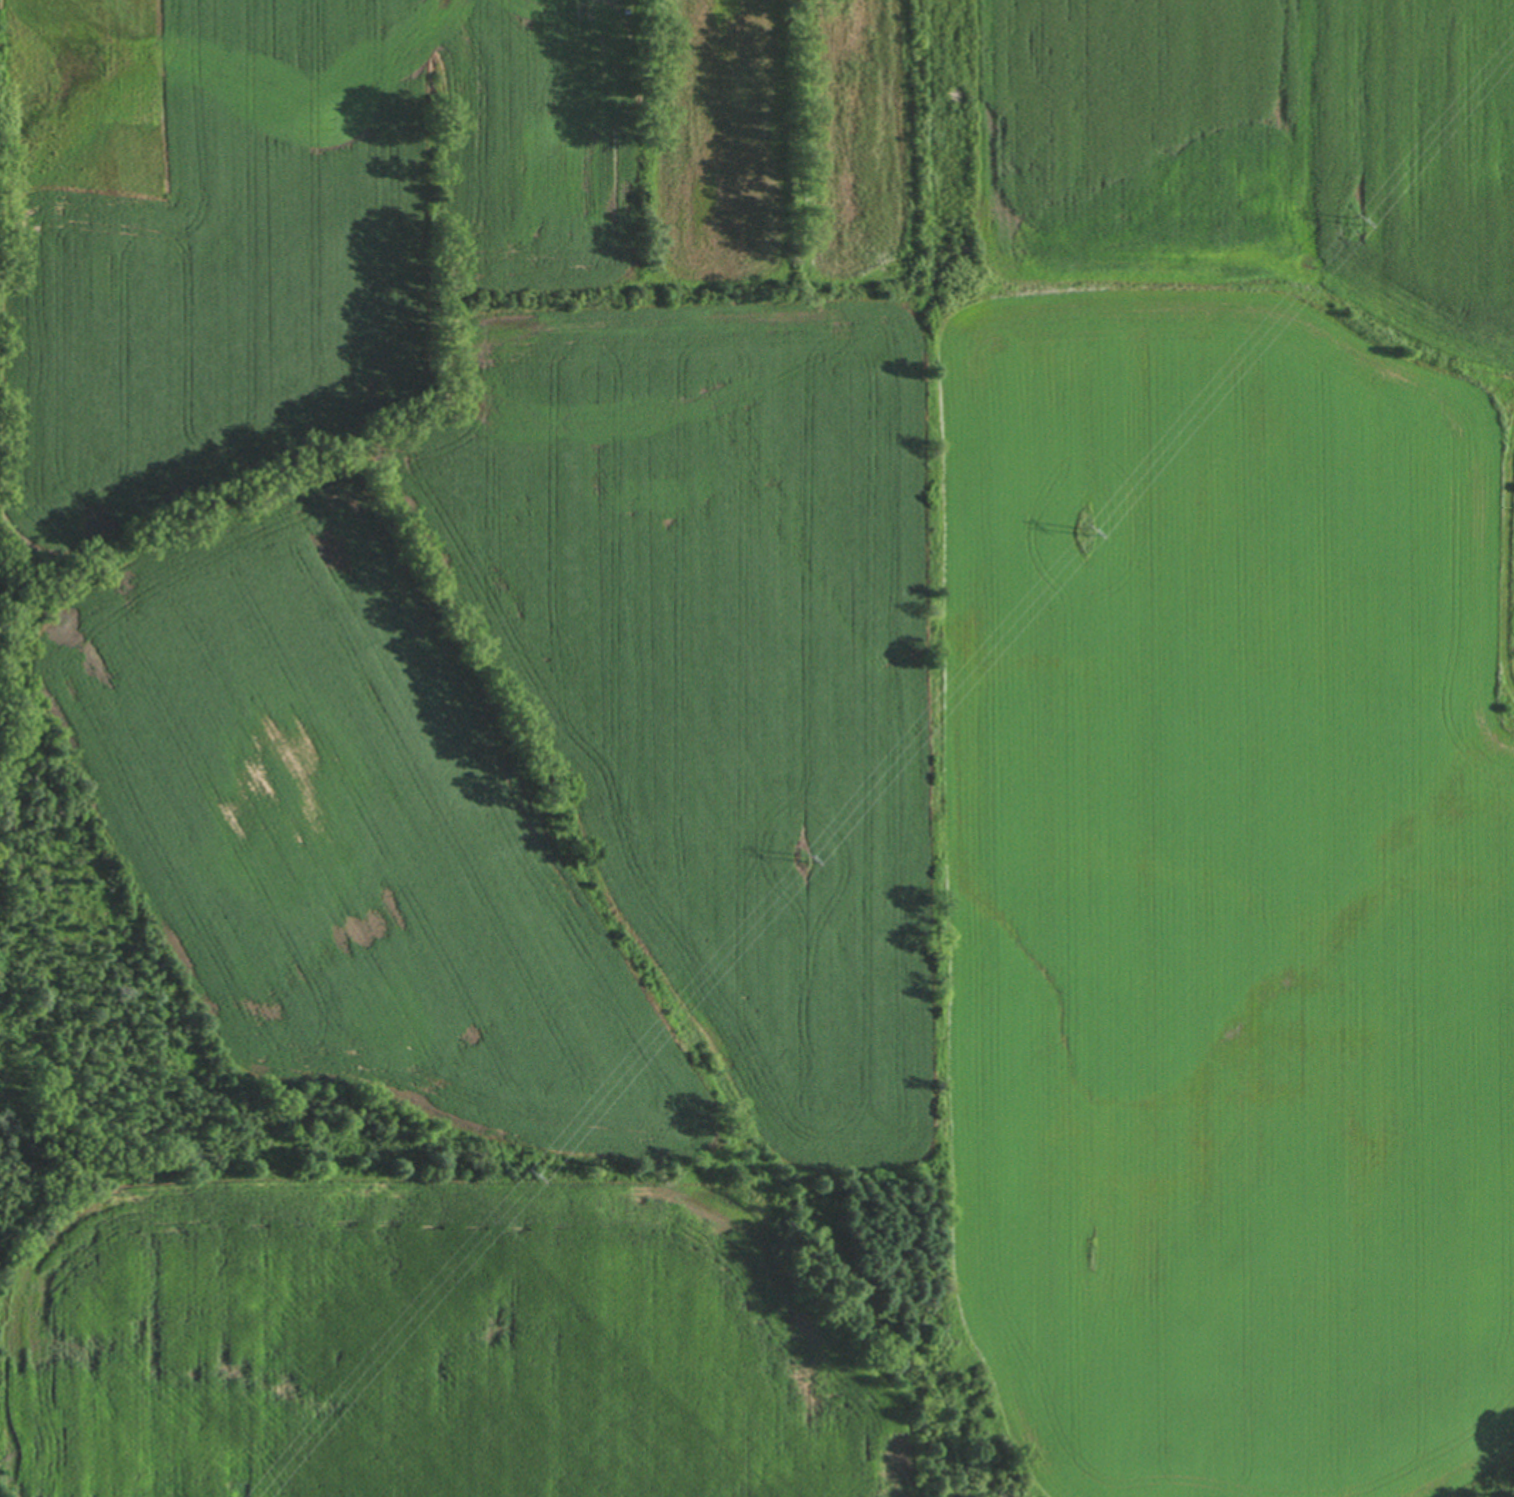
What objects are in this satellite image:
power tower: (1358, 218)
power tower: (1087, 528)
power tower: (807, 855)
power tower: (537, 1169)

